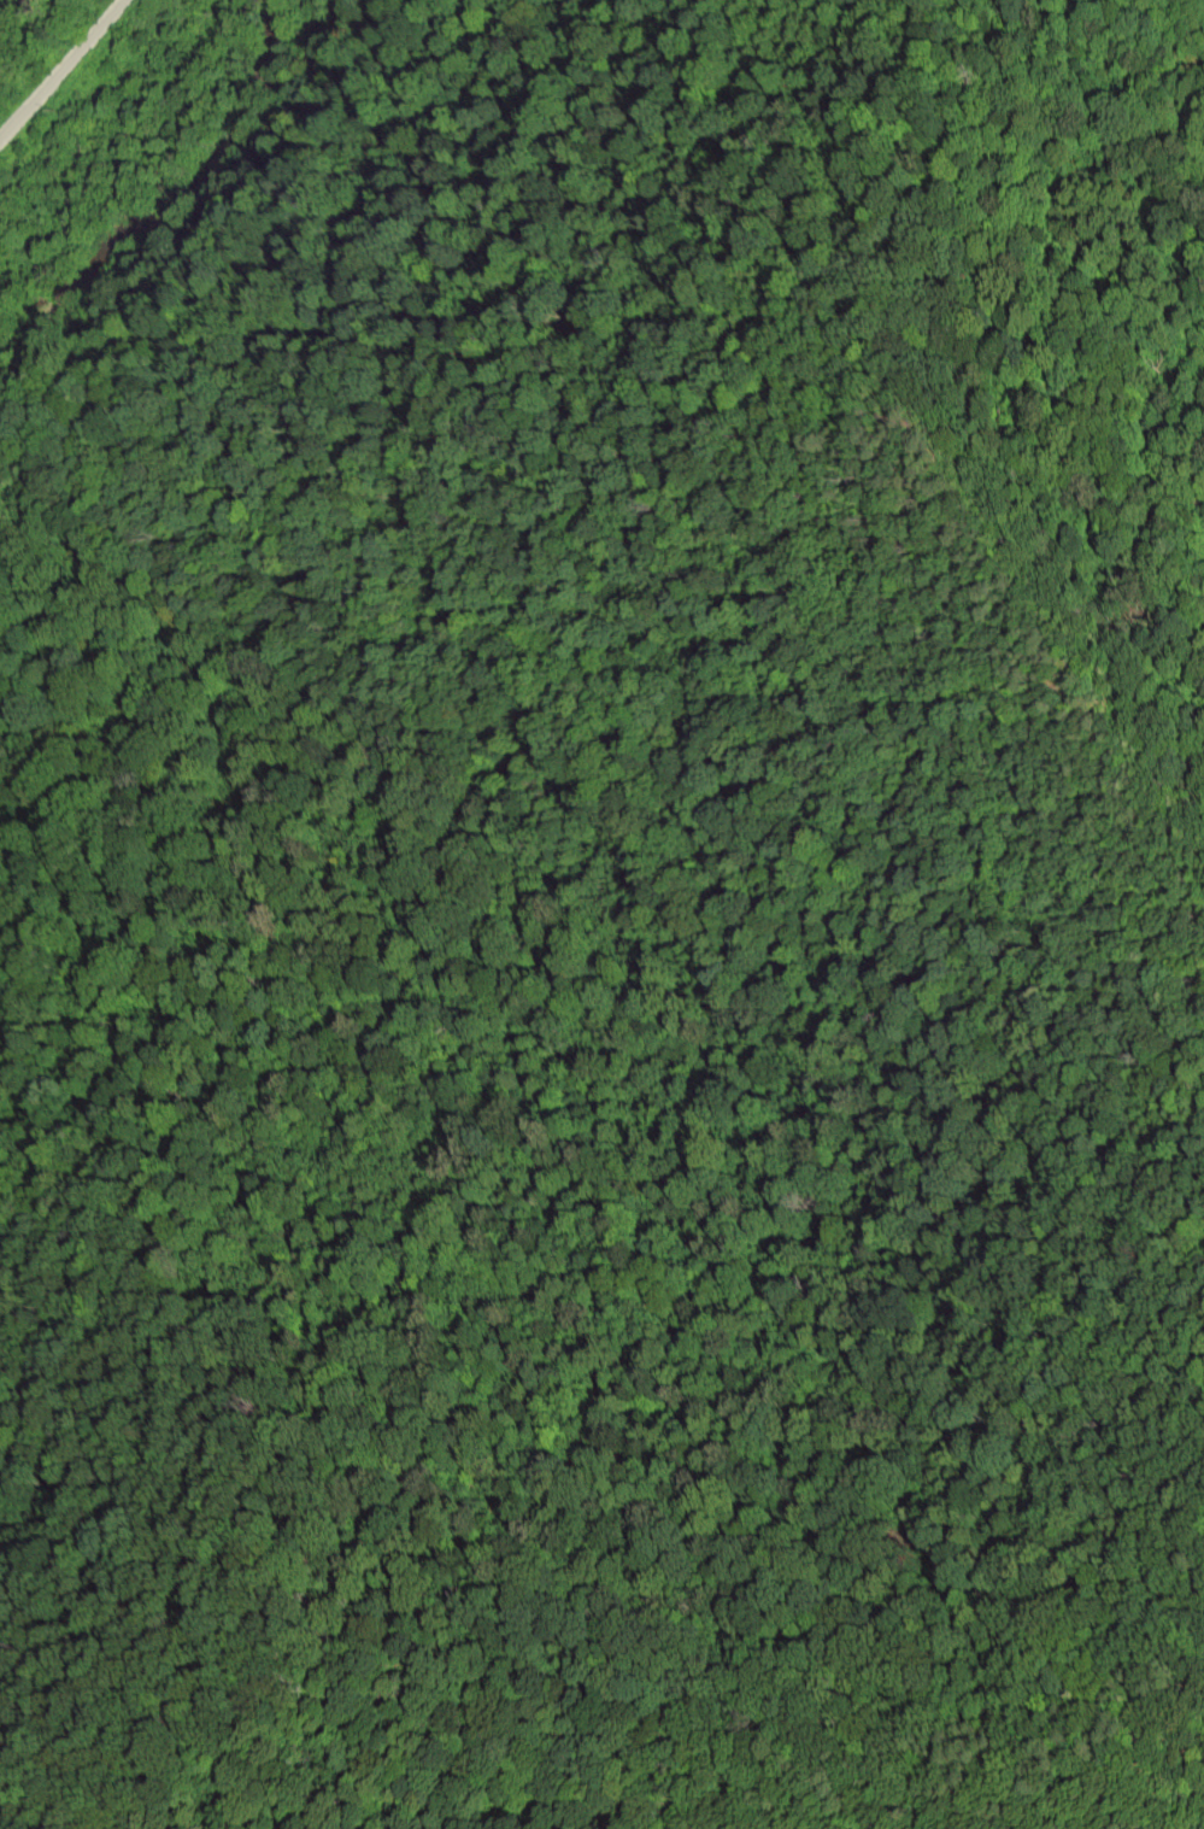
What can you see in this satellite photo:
road: (60, 63)

